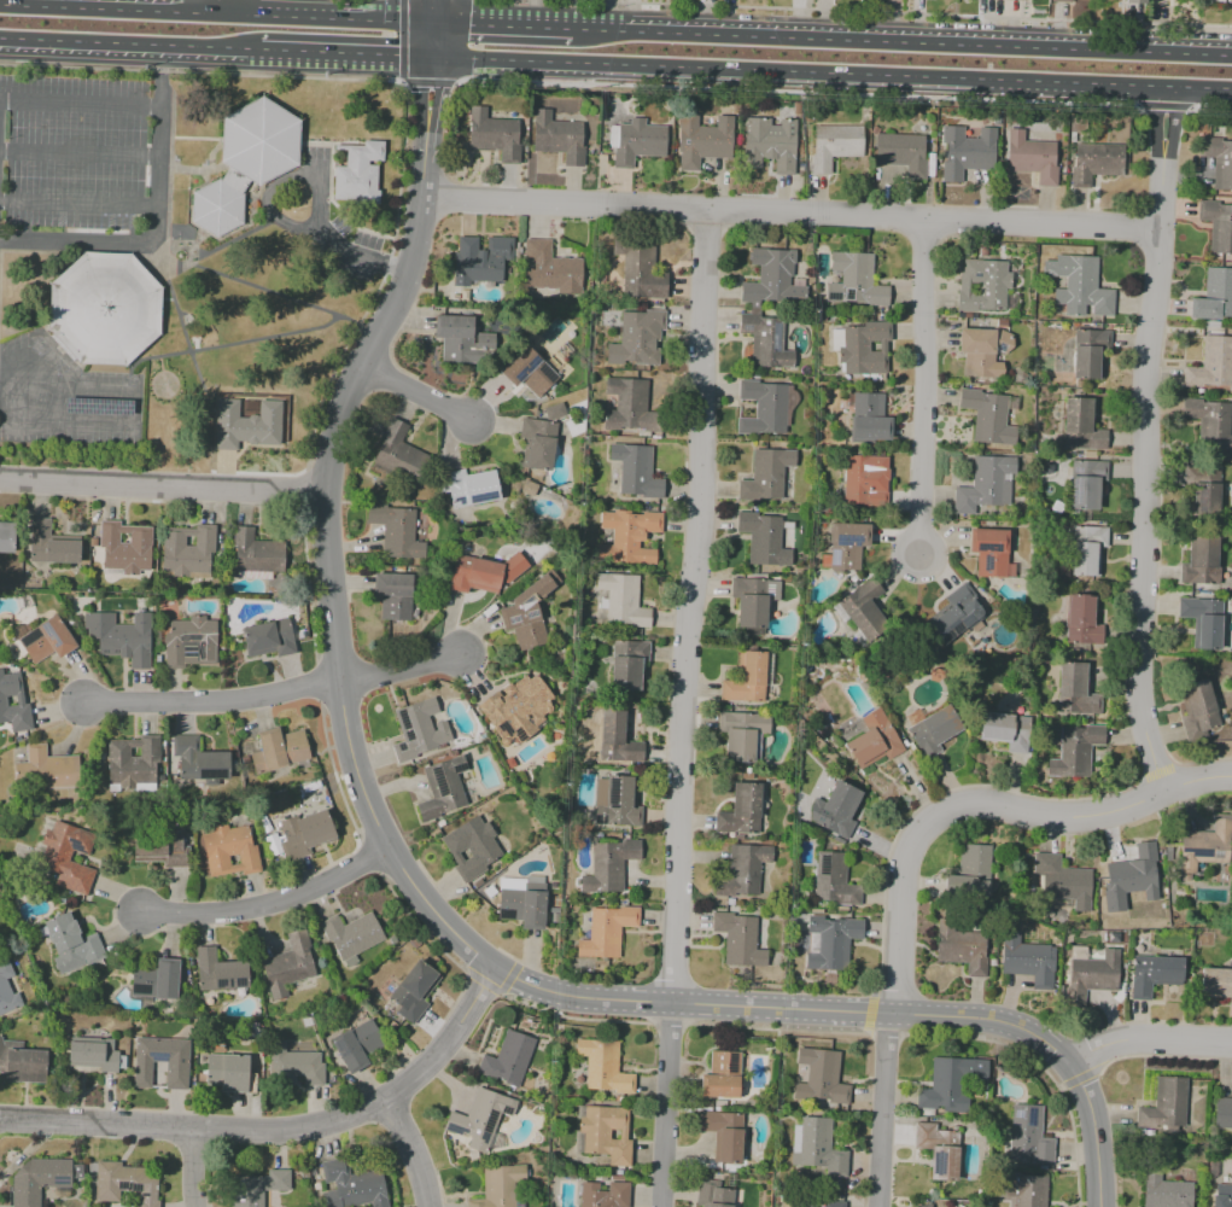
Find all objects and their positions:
building: (1018, 0)
building: (1061, 1)
building: (1135, 1)
building: (1230, 1)
road: (222, 6)
road: (436, 11)
road: (217, 12)
road: (907, 12)
traffic signals: (469, 24)
road: (503, 24)
road: (434, 40)
road: (901, 41)
road: (130, 42)
road: (348, 52)
traffic signals: (393, 54)
road: (401, 68)
road: (833, 71)
road: (200, 72)
road: (159, 76)
traffic signals: (433, 87)
road: (795, 92)
road: (78, 103)
road: (1163, 105)
road: (1210, 107)
building: (495, 135)
building: (559, 138)
building: (703, 141)
building: (640, 142)
building: (770, 142)
building: (835, 145)
building: (965, 151)
building: (901, 152)
road: (77, 153)
building: (1029, 157)
building: (244, 162)
building: (1218, 162)
building: (1094, 163)
building: (929, 164)
building: (357, 174)
road: (316, 189)
road: (76, 204)
road: (787, 211)
building: (1216, 225)
parking lot: (74, 237)
road: (142, 240)
building: (481, 262)
building: (553, 269)
building: (640, 269)
building: (771, 278)
building: (857, 280)
building: (983, 286)
building: (1078, 287)
rooftop solar panel: (830, 295)
rooftop solar panel: (848, 295)
building: (1214, 296)
building: (107, 311)
rooftop solar panel: (745, 327)
rooftop solar panel: (775, 334)
rooftop solar panel: (837, 337)
building: (455, 338)
building: (637, 339)
building: (765, 342)
building: (866, 350)
building: (982, 351)
building: (1088, 354)
building: (1211, 363)
rooftop solar panel: (524, 371)
building: (530, 371)
rooftop solar panel: (548, 374)
road: (918, 385)
road: (6, 392)
road: (416, 392)
building: (630, 403)
road: (135, 404)
rooftop solar panel: (94, 406)
building: (97, 407)
building: (763, 407)
building: (554, 412)
building: (987, 415)
building: (870, 419)
building: (1209, 424)
building: (245, 425)
building: (1081, 425)
road: (1144, 438)
building: (537, 444)
building: (395, 456)
building: (636, 471)
building: (766, 474)
building: (865, 480)
building: (988, 484)
building: (1085, 484)
road: (160, 485)
building: (472, 490)
building: (1202, 494)
rooftop solar panel: (481, 496)
rooftop solar panel: (456, 500)
building: (396, 532)
building: (629, 536)
building: (6, 537)
building: (764, 538)
rooftop solar panel: (846, 538)
building: (51, 544)
building: (846, 546)
rooftop solar panel: (995, 546)
building: (123, 548)
building: (1086, 549)
building: (991, 550)
building: (188, 552)
building: (256, 555)
rooftop solar panel: (834, 559)
building: (1199, 560)
building: (483, 573)
rooftop solar panel: (769, 591)
building: (393, 595)
building: (753, 600)
building: (623, 601)
road: (691, 605)
building: (864, 610)
building: (529, 612)
building: (956, 613)
road: (333, 617)
building: (1079, 619)
building: (1203, 619)
rooftop solar panel: (43, 630)
building: (118, 639)
building: (268, 639)
building: (46, 641)
building: (189, 641)
building: (632, 649)
rooftop solar panel: (187, 653)
road: (399, 671)
building: (630, 674)
building: (746, 680)
building: (1074, 689)
road: (215, 700)
building: (13, 704)
building: (1197, 706)
building: (515, 709)
rooftop solar panel: (403, 718)
rooftop solar panel: (503, 728)
building: (419, 729)
building: (934, 730)
building: (1005, 730)
building: (741, 734)
rooftop solar panel: (408, 735)
rooftop solar panel: (518, 735)
building: (611, 735)
building: (874, 740)
rooftop solar panel: (401, 746)
building: (296, 747)
building: (270, 750)
building: (1075, 751)
building: (633, 752)
building: (133, 758)
building: (199, 759)
rooftop solar panel: (459, 766)
building: (52, 768)
rooftop solar panel: (214, 772)
road: (1155, 772)
rooftop solar panel: (438, 781)
building: (443, 788)
rooftop solar panel: (611, 791)
building: (617, 801)
road: (981, 805)
rooftop solar panel: (612, 806)
building: (837, 809)
building: (741, 810)
rooftop solar panel: (596, 818)
rooftop solar panel: (603, 818)
building: (306, 833)
rooftop solar panel: (74, 846)
building: (1205, 847)
building: (160, 849)
building: (472, 849)
building: (229, 851)
rooftop solar panel: (1201, 851)
rooftop solar panel: (1218, 853)
building: (68, 856)
building: (974, 859)
building: (608, 865)
rooftop solar panel: (823, 865)
building: (742, 871)
building: (1132, 874)
building: (1065, 881)
building: (833, 882)
road: (268, 904)
building: (521, 906)
rooftop solar panel: (504, 915)
building: (606, 931)
building: (352, 934)
building: (738, 939)
building: (833, 940)
building: (71, 945)
building: (962, 949)
building: (1026, 960)
building: (290, 963)
building: (218, 972)
building: (1094, 973)
building: (1151, 974)
building: (153, 981)
rooftop solar panel: (215, 981)
rooftop solar panel: (239, 982)
rooftop solar panel: (229, 984)
building: (1215, 984)
rooftop solar panel: (138, 987)
building: (6, 990)
building: (413, 991)
road: (869, 1010)
road: (950, 1018)
road: (1146, 1037)
building: (355, 1044)
building: (93, 1055)
rooftop solar panel: (157, 1057)
building: (508, 1060)
rooftop solar panel: (731, 1063)
building: (22, 1066)
building: (297, 1067)
building: (602, 1067)
building: (227, 1073)
building: (176, 1075)
building: (723, 1078)
building: (818, 1078)
building: (956, 1088)
building: (1170, 1101)
road: (664, 1104)
road: (881, 1109)
rooftop solar panel: (504, 1112)
rooftop solar panel: (1016, 1113)
building: (1224, 1113)
rooftop solar panel: (1030, 1116)
building: (477, 1118)
rooftop solar panel: (487, 1119)
road: (281, 1127)
rooftop solar panel: (454, 1130)
rooftop solar panel: (484, 1136)
building: (602, 1136)
building: (724, 1137)
building: (1029, 1137)
building: (817, 1148)
road: (409, 1151)
building: (939, 1151)
rooftop solar panel: (938, 1164)
road: (192, 1167)
building: (37, 1180)
building: (122, 1184)
rooftop solar panel: (129, 1185)
building: (351, 1185)
building: (259, 1188)
building: (501, 1188)
building: (1023, 1190)
building: (605, 1194)
building: (713, 1194)
building: (1168, 1194)
building: (1221, 1201)
building: (831, 1205)
building: (922, 1206)
building: (942, 1206)

